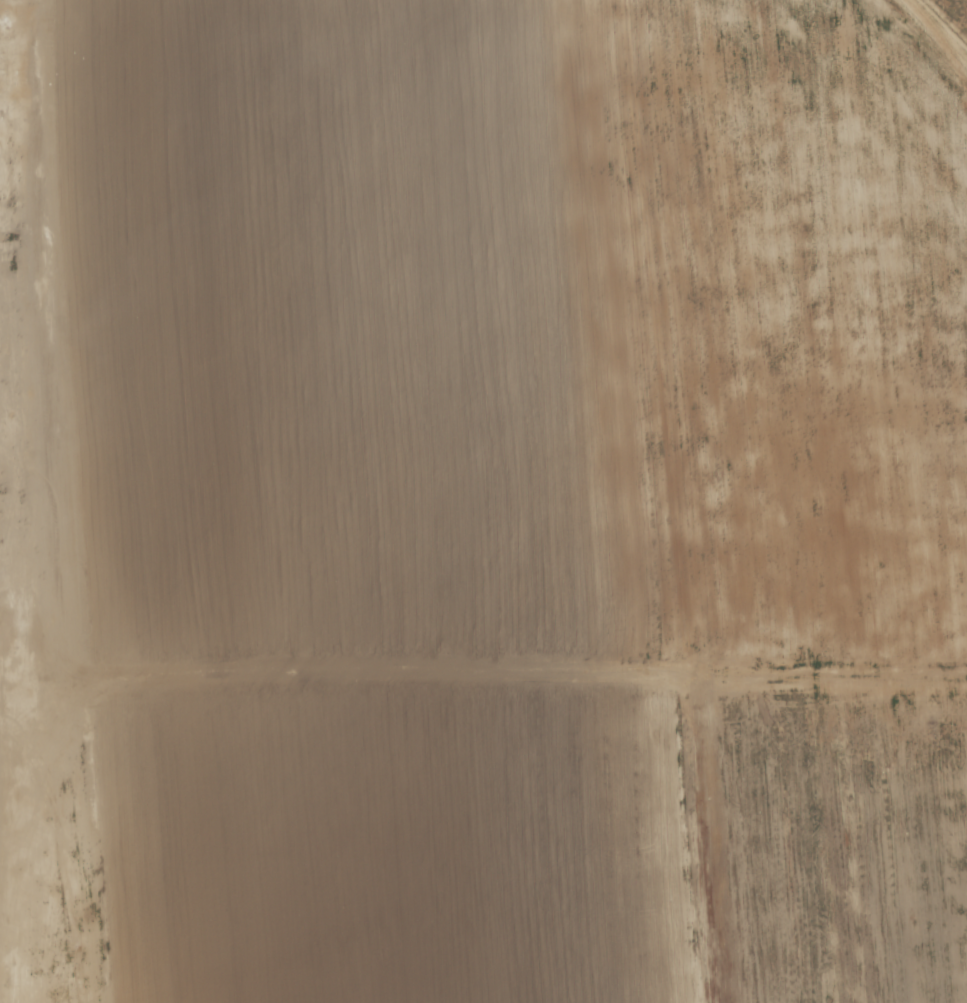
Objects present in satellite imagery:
landfill: (518, 331)
landfill: (551, 851)

